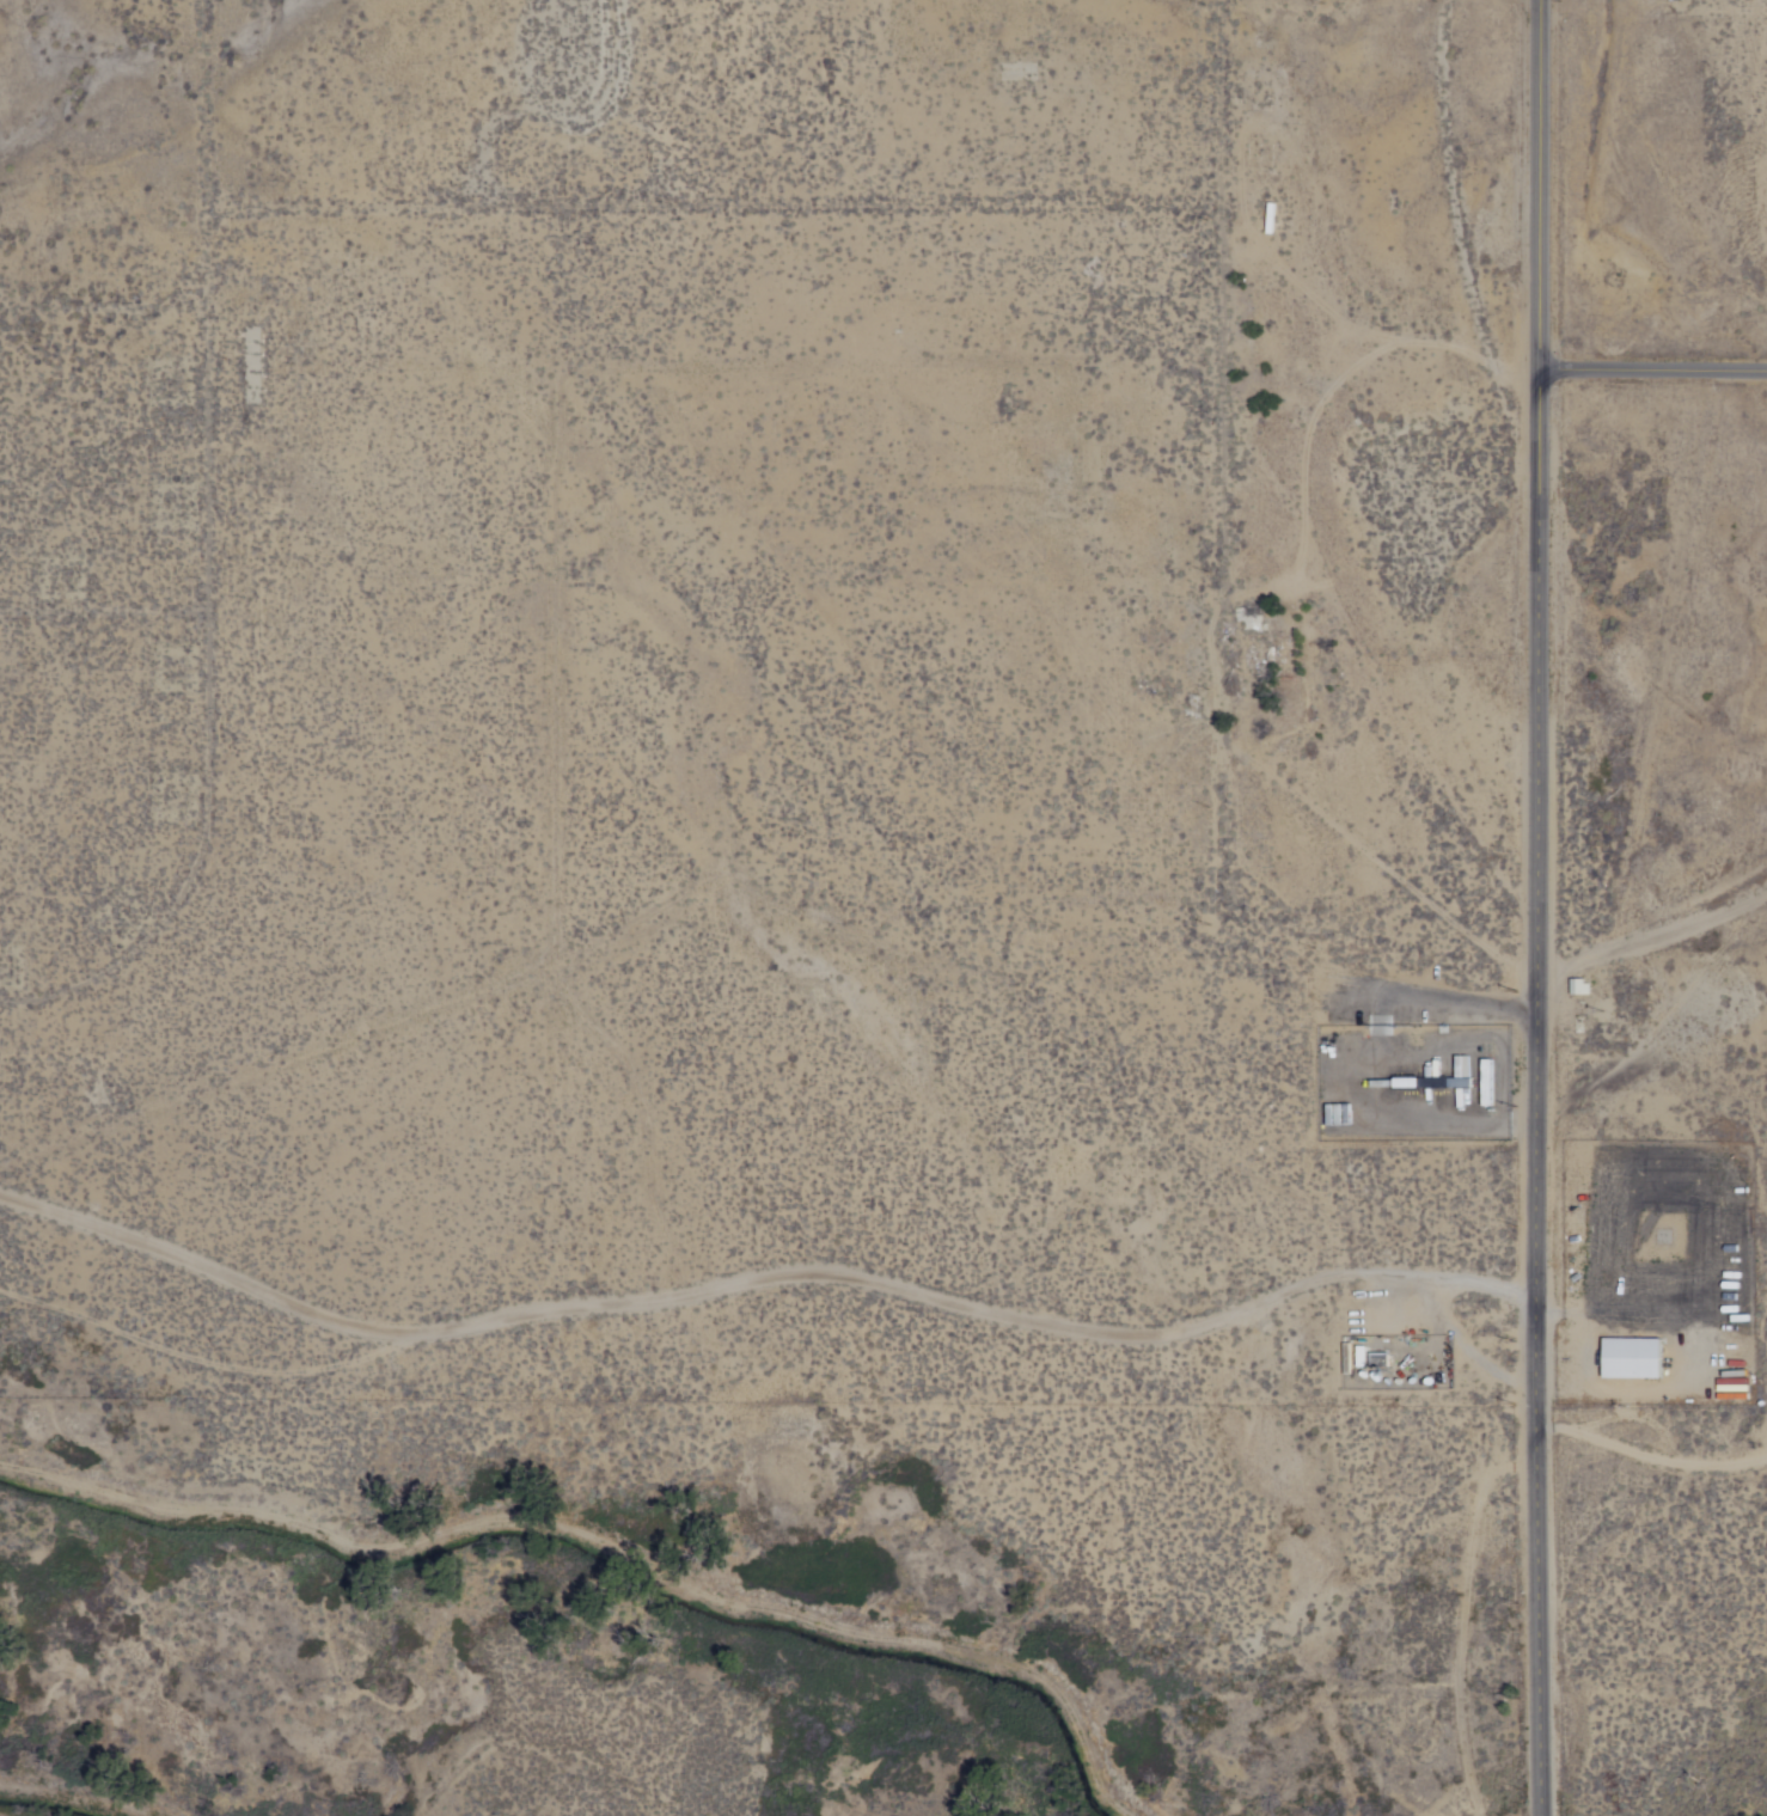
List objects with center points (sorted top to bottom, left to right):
road: (1536, 184)
road: (1651, 369)
airport: (867, 689)
building: (1578, 986)
building: (1436, 1081)
building: (1482, 1086)
road: (1535, 1093)
helipad: (1663, 1235)
airport: (1667, 1271)
road: (760, 1277)
building: (1359, 1356)
airport hangar: (1631, 1357)
building: (1631, 1357)
building: (1378, 1358)
building: (1730, 1390)
road: (1649, 1451)

